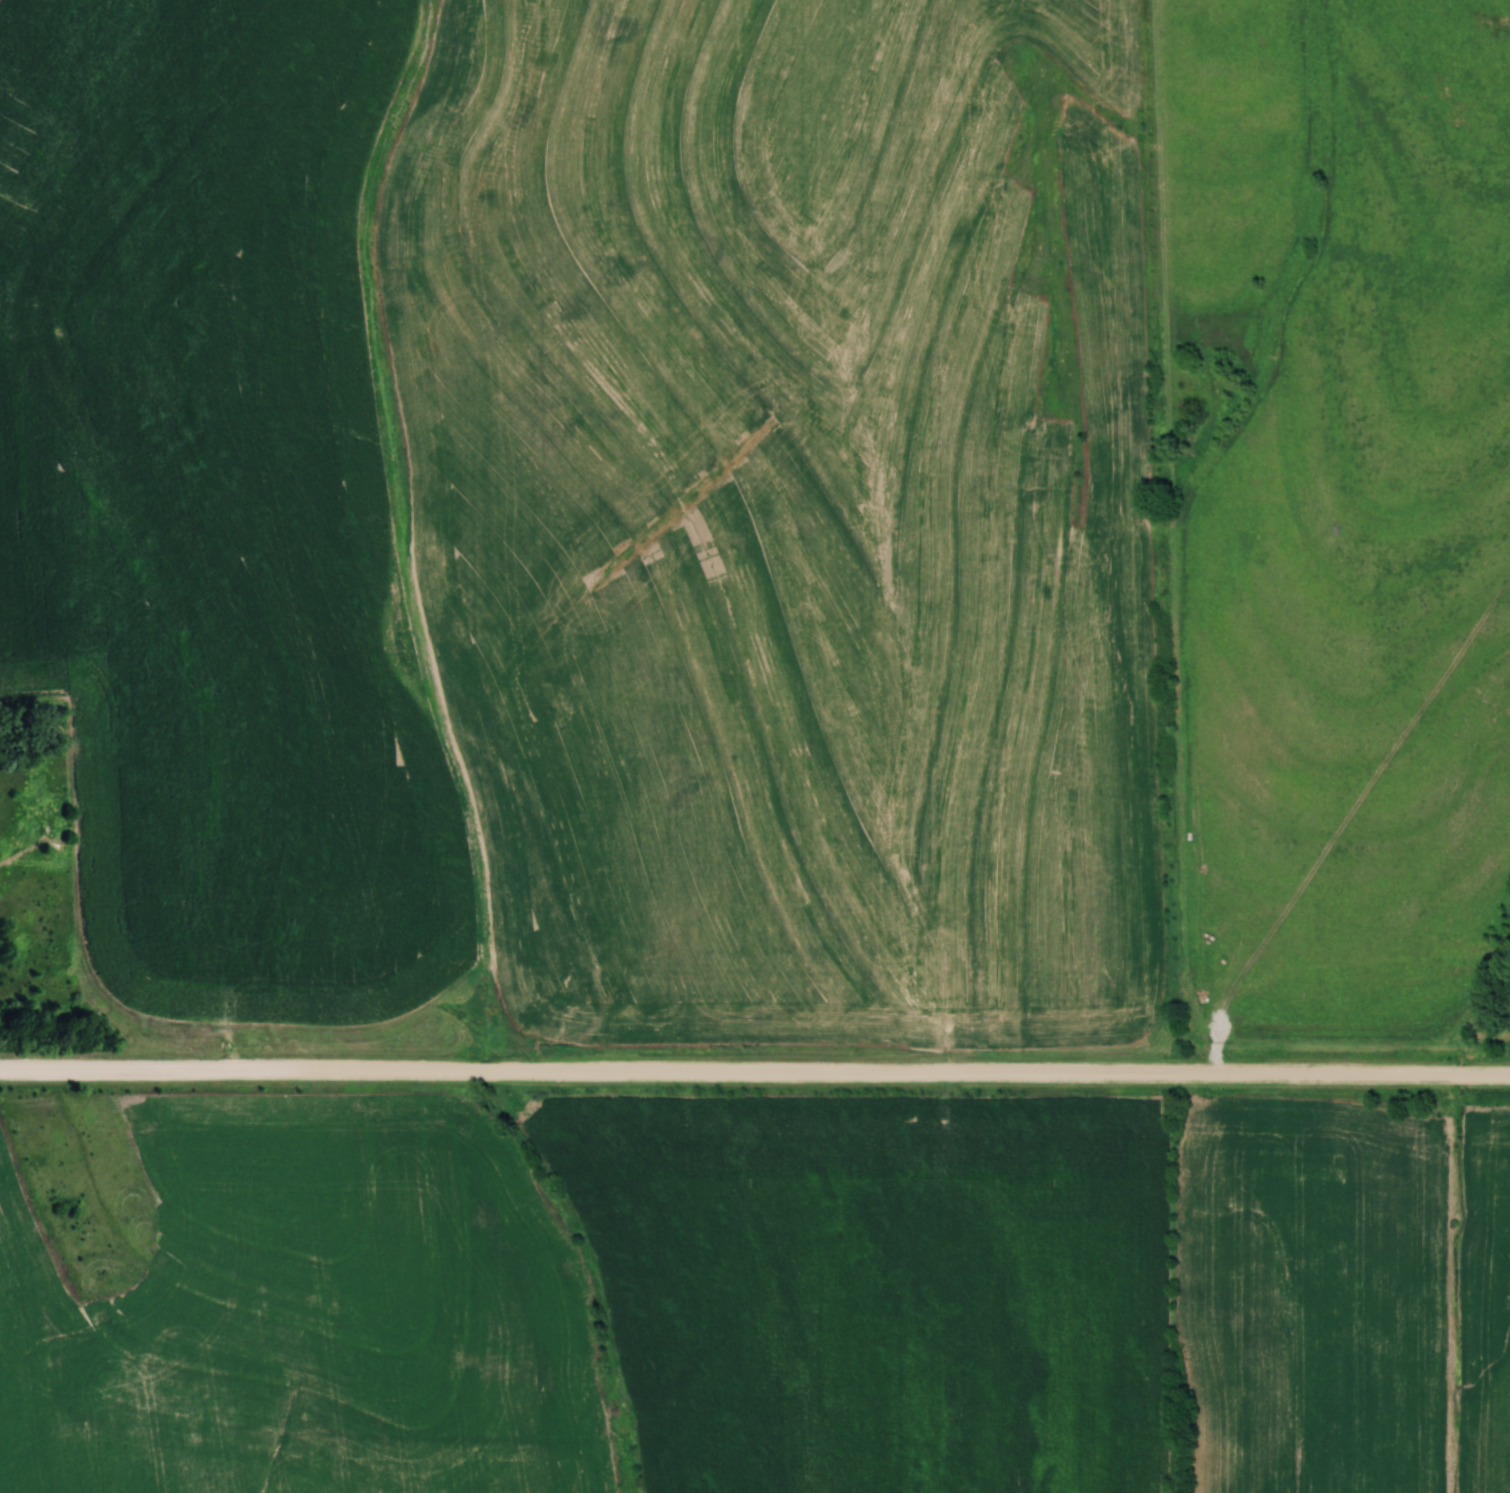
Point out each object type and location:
road: (755, 1073)

